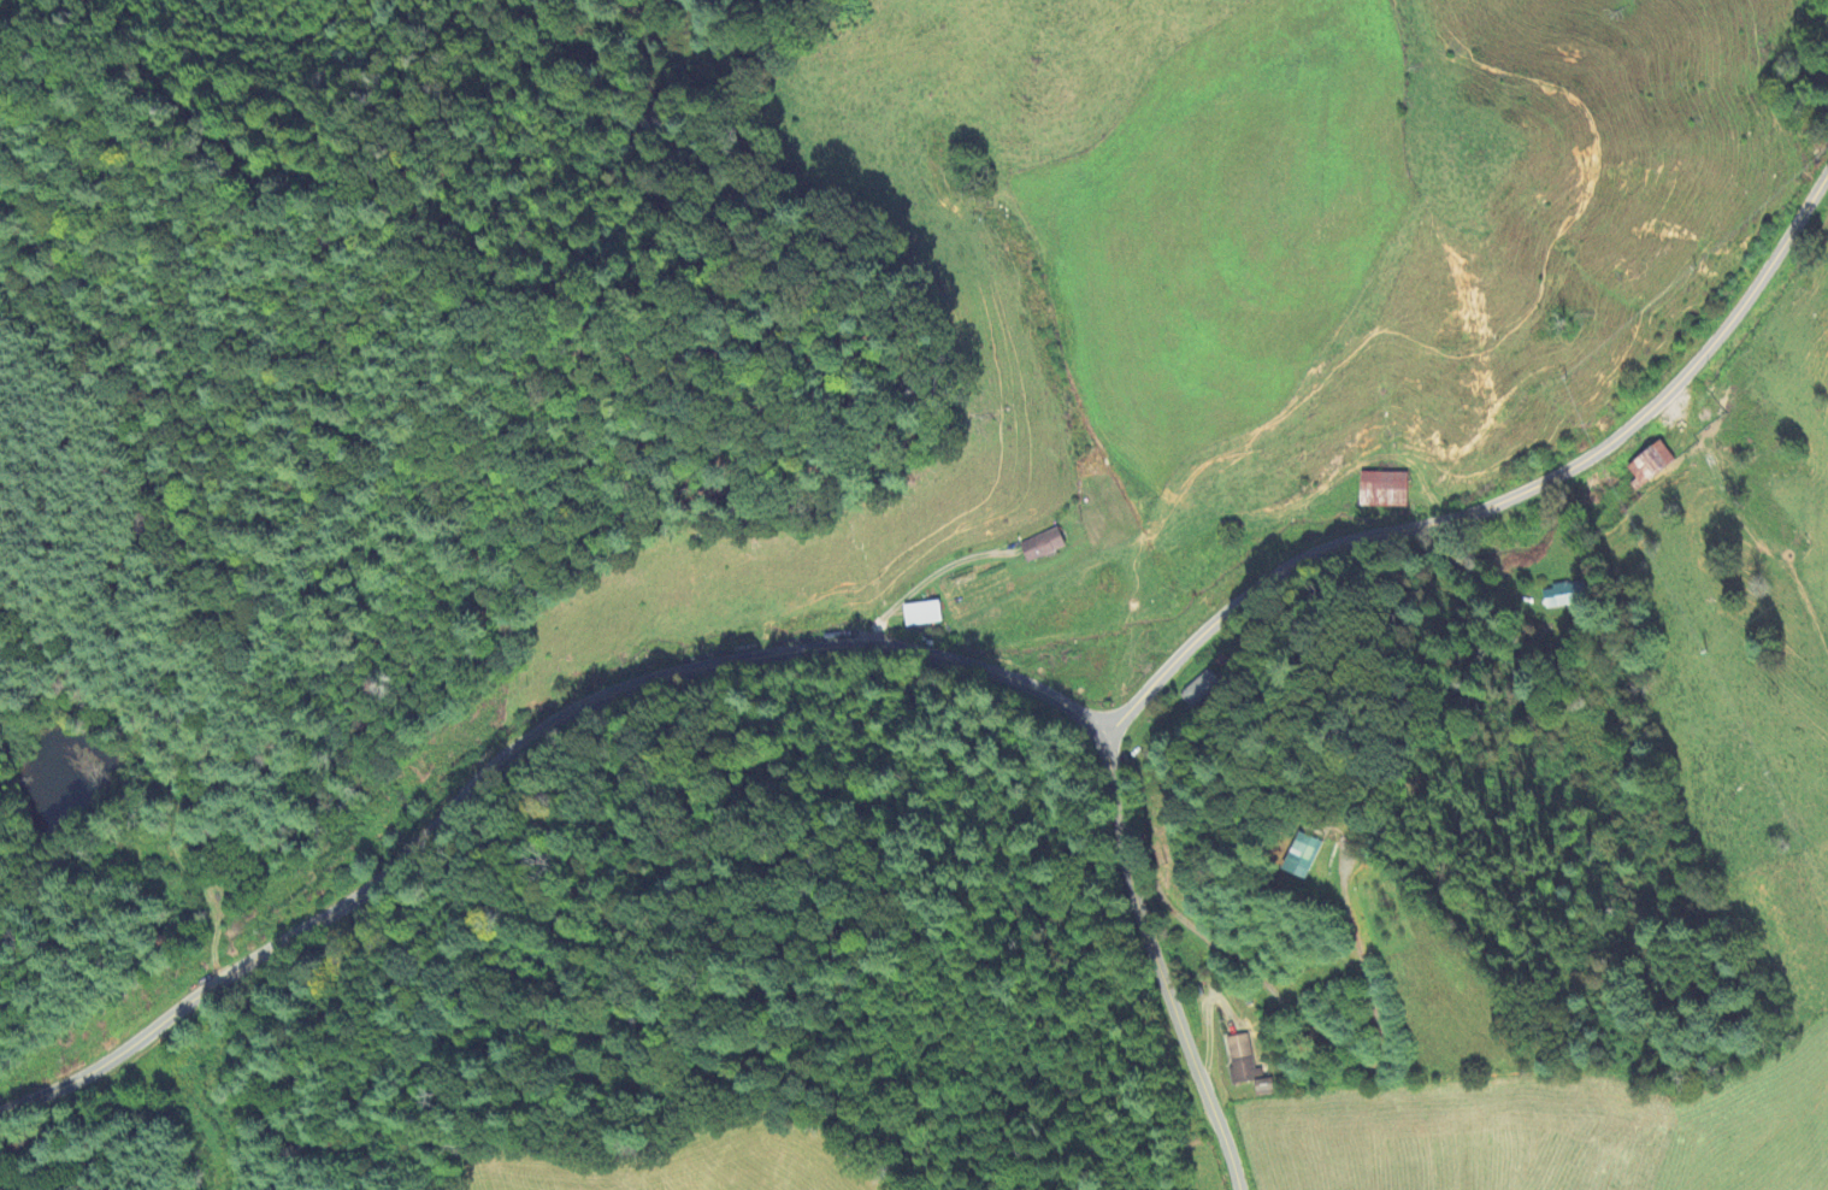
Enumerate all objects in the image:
building: (1647, 465)
building: (1382, 490)
building: (1042, 546)
building: (1553, 599)
building: (920, 614)
road: (963, 662)
building: (1299, 858)
road: (1158, 962)
park: (1553, 1035)
building: (1244, 1061)

